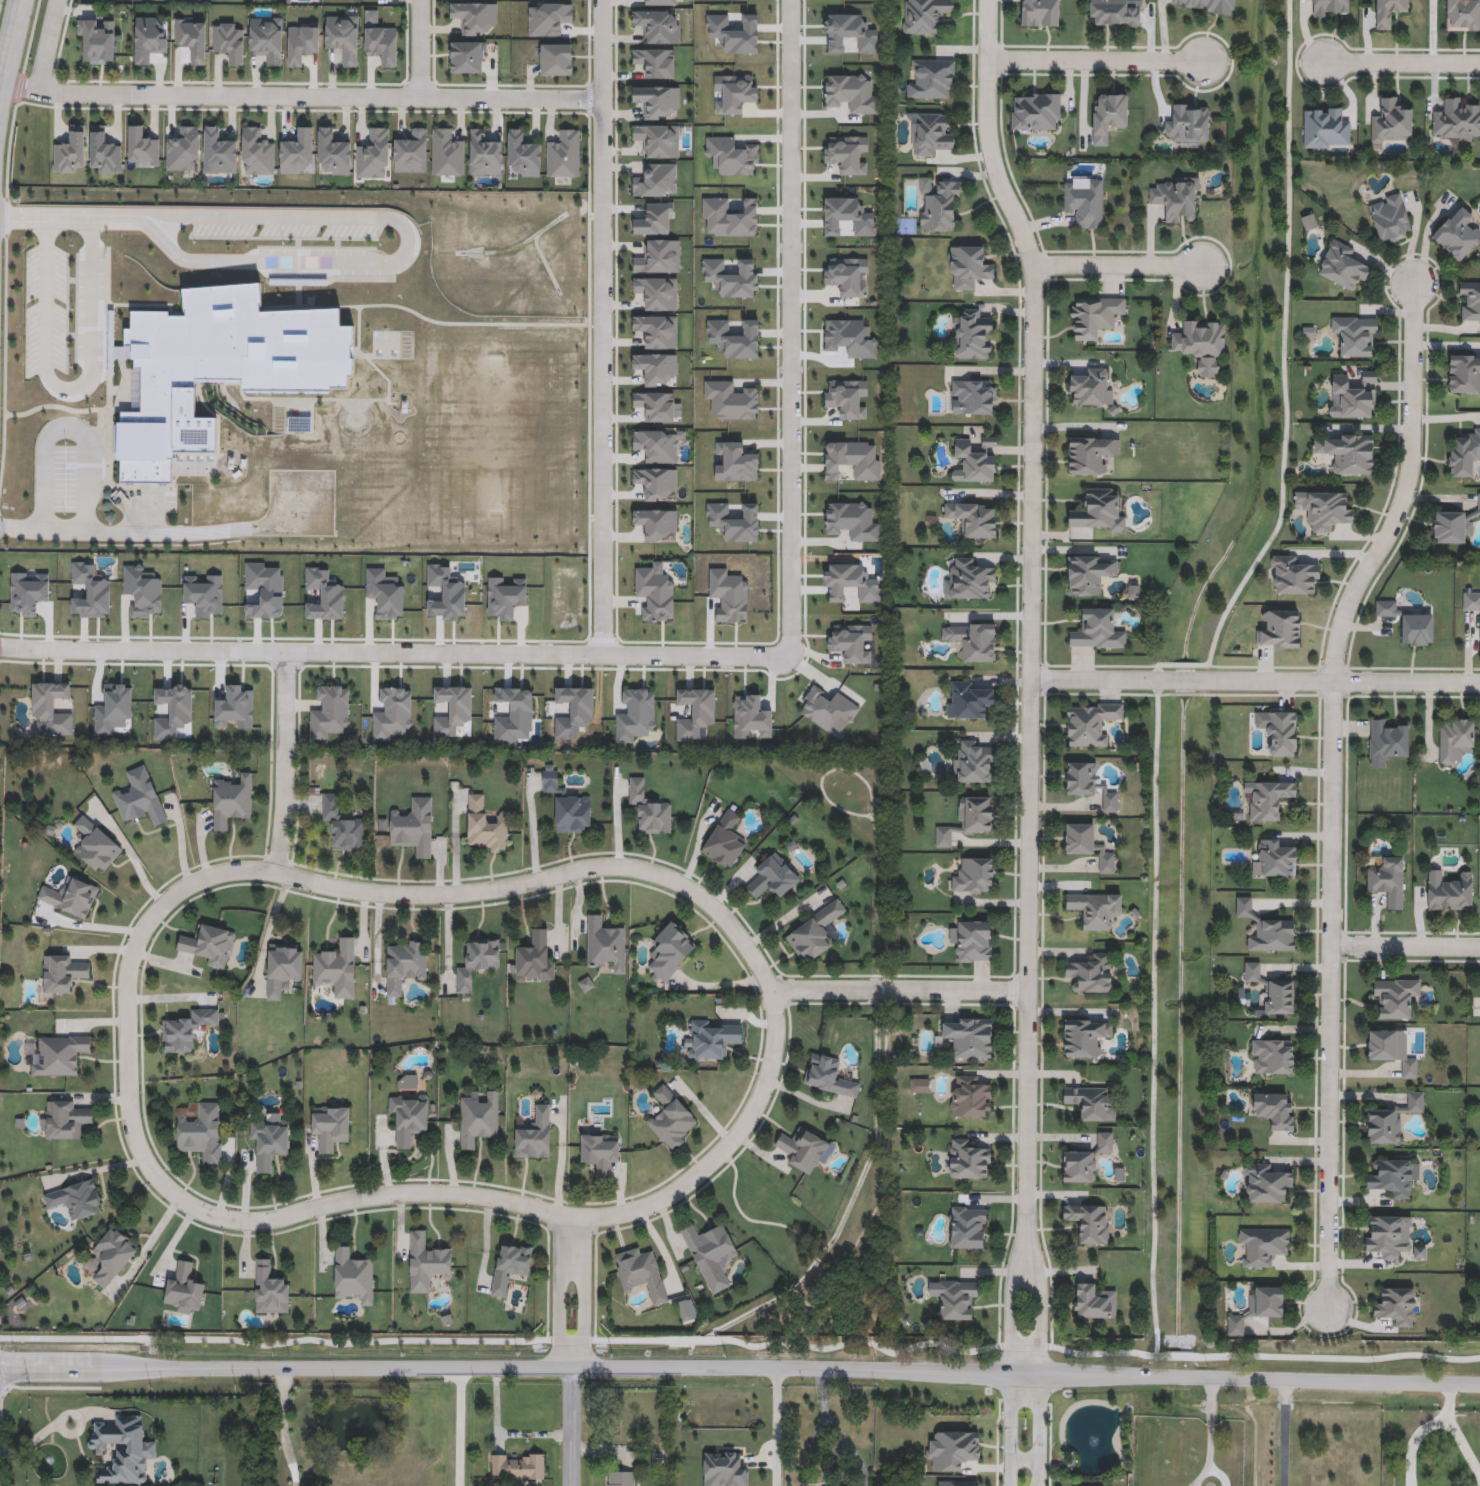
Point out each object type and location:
building: (660, 4)
building: (1203, 5)
building: (1330, 8)
building: (1040, 13)
building: (1389, 13)
building: (1114, 14)
building: (924, 15)
building: (1463, 16)
building: (474, 18)
building: (549, 20)
building: (658, 28)
building: (344, 38)
building: (192, 40)
building: (267, 41)
building: (150, 42)
building: (98, 43)
building: (230, 43)
building: (302, 45)
building: (382, 45)
road: (47, 46)
road: (420, 48)
road: (11, 50)
building: (469, 59)
building: (556, 61)
road: (1095, 61)
building: (655, 64)
road: (1400, 65)
building: (932, 80)
road: (302, 95)
building: (657, 101)
building: (1036, 112)
building: (1107, 117)
building: (1392, 122)
building: (1456, 122)
building: (1189, 125)
building: (1326, 129)
building: (929, 135)
building: (659, 142)
building: (143, 147)
building: (184, 151)
building: (71, 152)
building: (219, 153)
building: (257, 153)
building: (297, 153)
building: (104, 154)
building: (333, 154)
building: (411, 154)
building: (448, 154)
building: (485, 155)
building: (524, 155)
building: (564, 155)
building: (375, 156)
building: (732, 158)
building: (656, 181)
building: (1177, 200)
building: (1085, 202)
building: (937, 205)
road: (67, 215)
building: (1390, 219)
building: (655, 221)
building: (1310, 222)
building: (1456, 235)
road: (406, 249)
building: (659, 258)
road: (1116, 265)
building: (1342, 266)
building: (967, 268)
building: (658, 294)
building: (1469, 302)
building: (1094, 317)
road: (601, 327)
road: (791, 327)
building: (658, 333)
building: (973, 336)
building: (1355, 336)
building: (1201, 344)
building: (220, 368)
building: (655, 369)
building: (1464, 374)
building: (1369, 377)
road: (68, 388)
building: (1090, 390)
building: (975, 397)
building: (1350, 399)
building: (731, 402)
road: (68, 426)
building: (1348, 453)
building: (1464, 454)
building: (1091, 456)
building: (975, 461)
road: (1404, 490)
building: (1324, 510)
building: (1099, 512)
building: (974, 519)
building: (1453, 526)
road: (121, 531)
building: (1089, 574)
building: (1293, 577)
building: (970, 581)
building: (654, 595)
building: (504, 598)
building: (1471, 602)
building: (1408, 623)
road: (1032, 628)
building: (1280, 630)
building: (1097, 631)
building: (972, 641)
road: (395, 653)
road: (1256, 679)
building: (967, 701)
building: (828, 710)
building: (572, 712)
building: (694, 713)
building: (512, 716)
building: (634, 716)
building: (1090, 724)
building: (1281, 735)
building: (1454, 739)
building: (1388, 742)
road: (286, 760)
building: (973, 764)
building: (1090, 785)
building: (140, 799)
building: (1269, 800)
building: (231, 803)
building: (566, 805)
building: (649, 809)
building: (968, 820)
building: (343, 825)
building: (486, 826)
building: (413, 828)
building: (725, 841)
building: (1088, 846)
building: (96, 847)
building: (1275, 860)
building: (973, 876)
building: (773, 878)
building: (1388, 883)
building: (1449, 893)
building: (70, 898)
building: (1244, 908)
building: (1095, 910)
building: (815, 933)
building: (1273, 936)
building: (973, 942)
building: (605, 944)
building: (210, 946)
road: (1406, 947)
building: (670, 952)
building: (534, 961)
building: (477, 963)
building: (404, 966)
building: (282, 969)
building: (336, 969)
building: (62, 974)
building: (1092, 975)
road: (901, 990)
building: (1271, 991)
road: (1331, 994)
building: (1394, 998)
building: (187, 1031)
building: (1085, 1037)
building: (969, 1038)
building: (713, 1040)
building: (1392, 1051)
building: (61, 1056)
building: (1272, 1058)
building: (829, 1077)
building: (407, 1083)
road: (130, 1089)
building: (970, 1097)
building: (1090, 1104)
building: (1274, 1110)
building: (409, 1118)
building: (671, 1119)
building: (479, 1120)
building: (1390, 1120)
building: (65, 1121)
building: (331, 1126)
building: (200, 1132)
building: (534, 1136)
building: (269, 1143)
building: (1104, 1143)
building: (806, 1149)
building: (600, 1153)
building: (968, 1161)
building: (1078, 1167)
building: (1393, 1177)
building: (1266, 1184)
building: (77, 1200)
building: (1089, 1223)
building: (968, 1228)
building: (1385, 1236)
building: (1263, 1246)
building: (710, 1251)
building: (112, 1256)
building: (426, 1263)
building: (511, 1266)
building: (641, 1274)
building: (353, 1275)
building: (185, 1290)
building: (270, 1291)
road: (560, 1294)
road: (584, 1294)
building: (953, 1298)
building: (1266, 1302)
building: (1093, 1303)
building: (1397, 1307)
road: (1012, 1319)
road: (1040, 1319)
building: (1236, 1326)
road: (740, 1374)
road: (1461, 1426)
road: (459, 1427)
road: (285, 1428)
road: (572, 1428)
road: (776, 1430)
road: (1012, 1432)
road: (1040, 1432)
road: (1283, 1434)
road: (1209, 1436)
road: (826, 1440)
building: (123, 1449)
building: (517, 1466)
building: (622, 1478)
building: (957, 1483)

